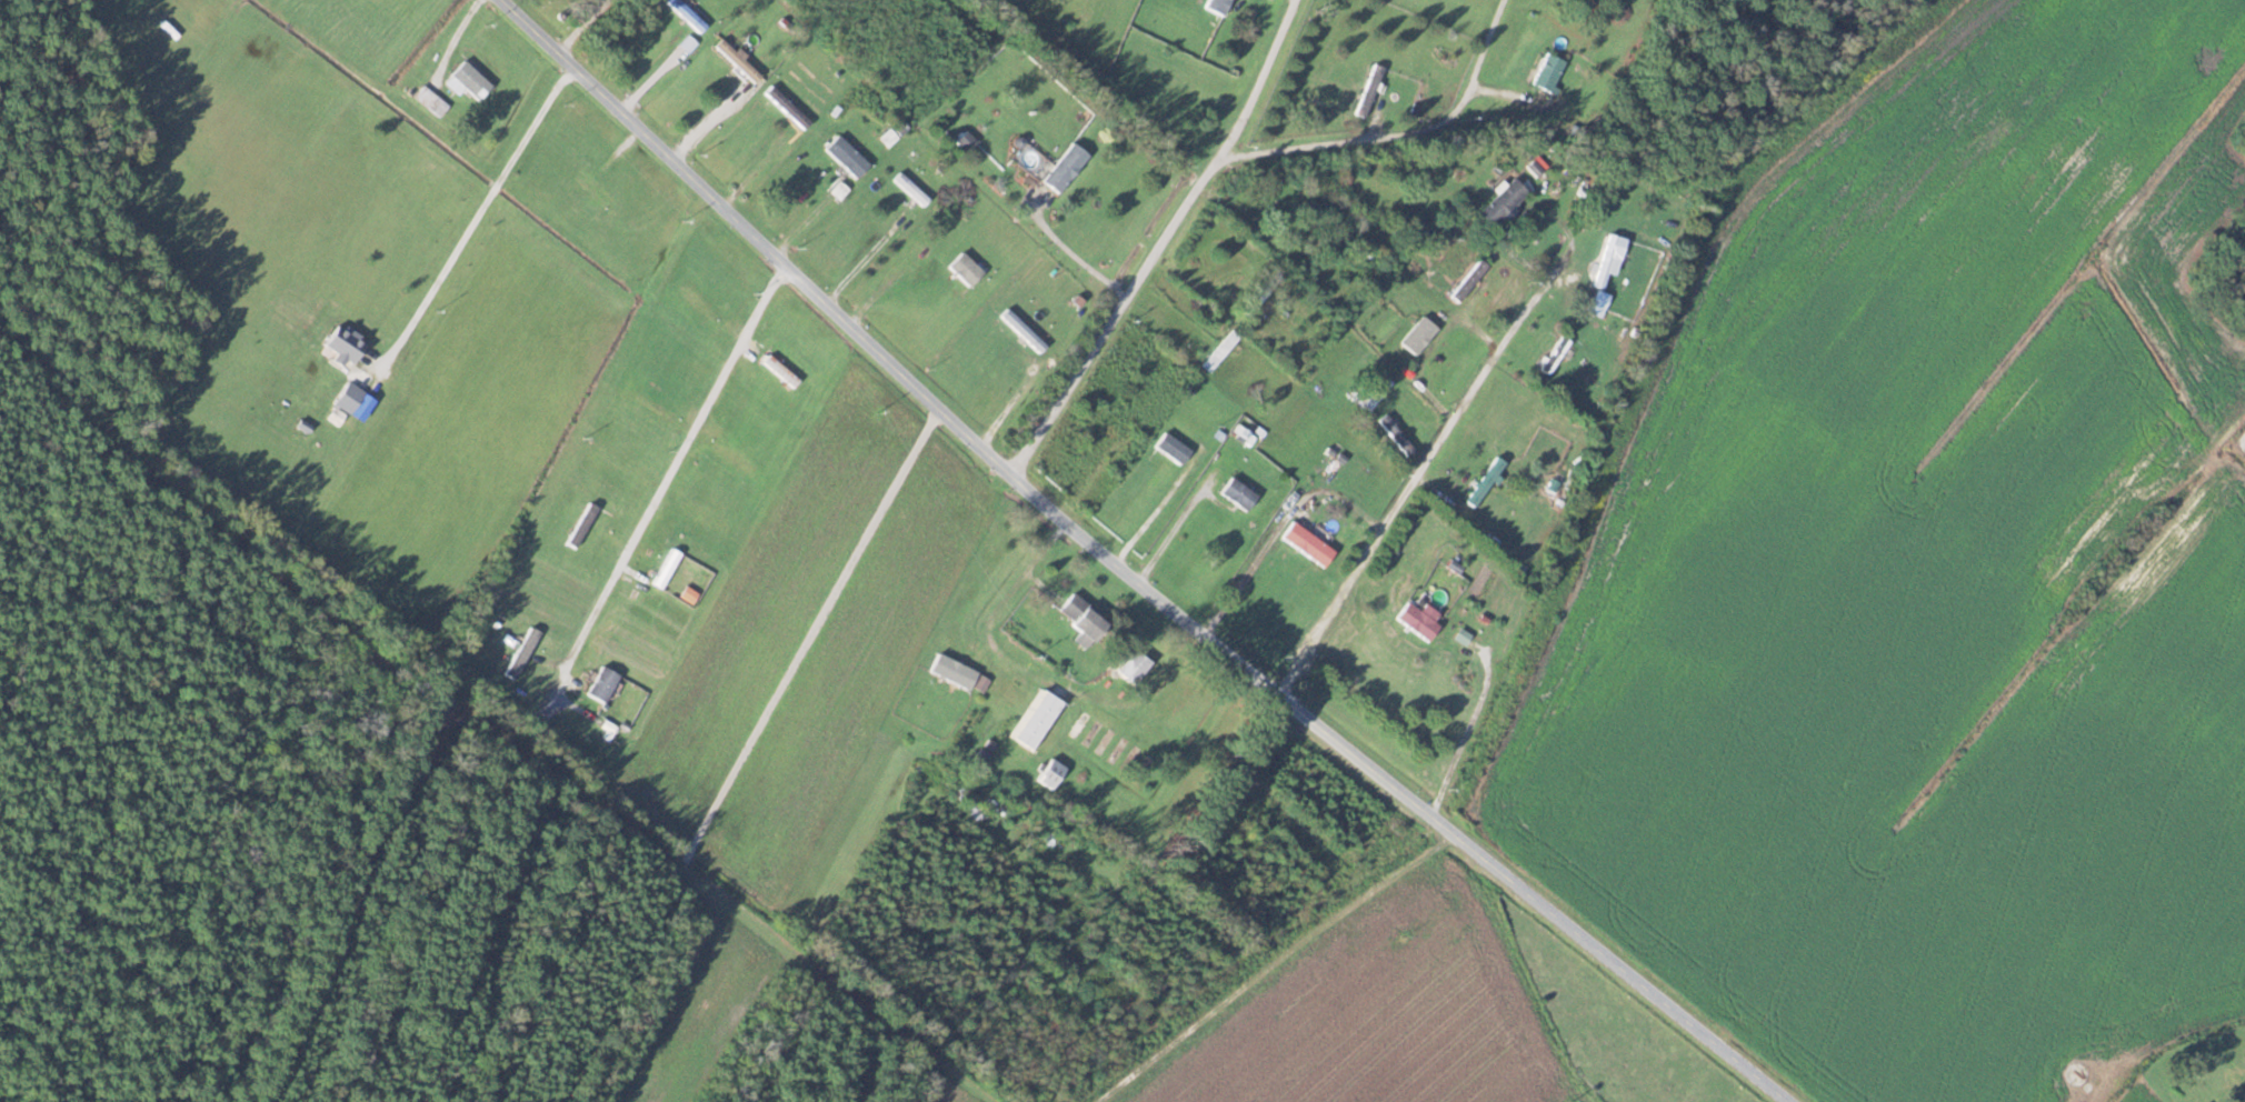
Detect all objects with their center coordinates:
building: (1218, 6)
building: (688, 14)
road: (583, 26)
road: (456, 39)
building: (738, 60)
building: (1548, 71)
building: (467, 81)
building: (1369, 90)
building: (431, 100)
building: (857, 100)
building: (787, 107)
road: (709, 118)
road: (1399, 134)
building: (847, 157)
building: (1065, 168)
building: (595, 189)
building: (911, 189)
building: (839, 190)
building: (1503, 201)
road: (477, 218)
building: (1298, 231)
road: (1164, 240)
road: (1076, 253)
building: (1606, 260)
building: (965, 268)
building: (1468, 280)
building: (1261, 293)
building: (1024, 330)
building: (1420, 339)
building: (343, 344)
building: (1220, 350)
building: (1555, 354)
building: (780, 371)
building: (1376, 393)
building: (348, 398)
building: (1173, 448)
building: (732, 460)
road: (1424, 469)
road: (674, 470)
building: (1485, 482)
building: (1238, 493)
road: (1283, 521)
building: (582, 524)
building: (1307, 543)
building: (671, 567)
road: (1135, 568)
road: (1004, 601)
building: (1081, 618)
building: (522, 652)
building: (1135, 667)
building: (1007, 690)
building: (1104, 719)
building: (1039, 720)
road: (1470, 727)
building: (958, 771)
building: (1050, 773)
building: (912, 792)
building: (971, 804)
building: (1035, 831)

